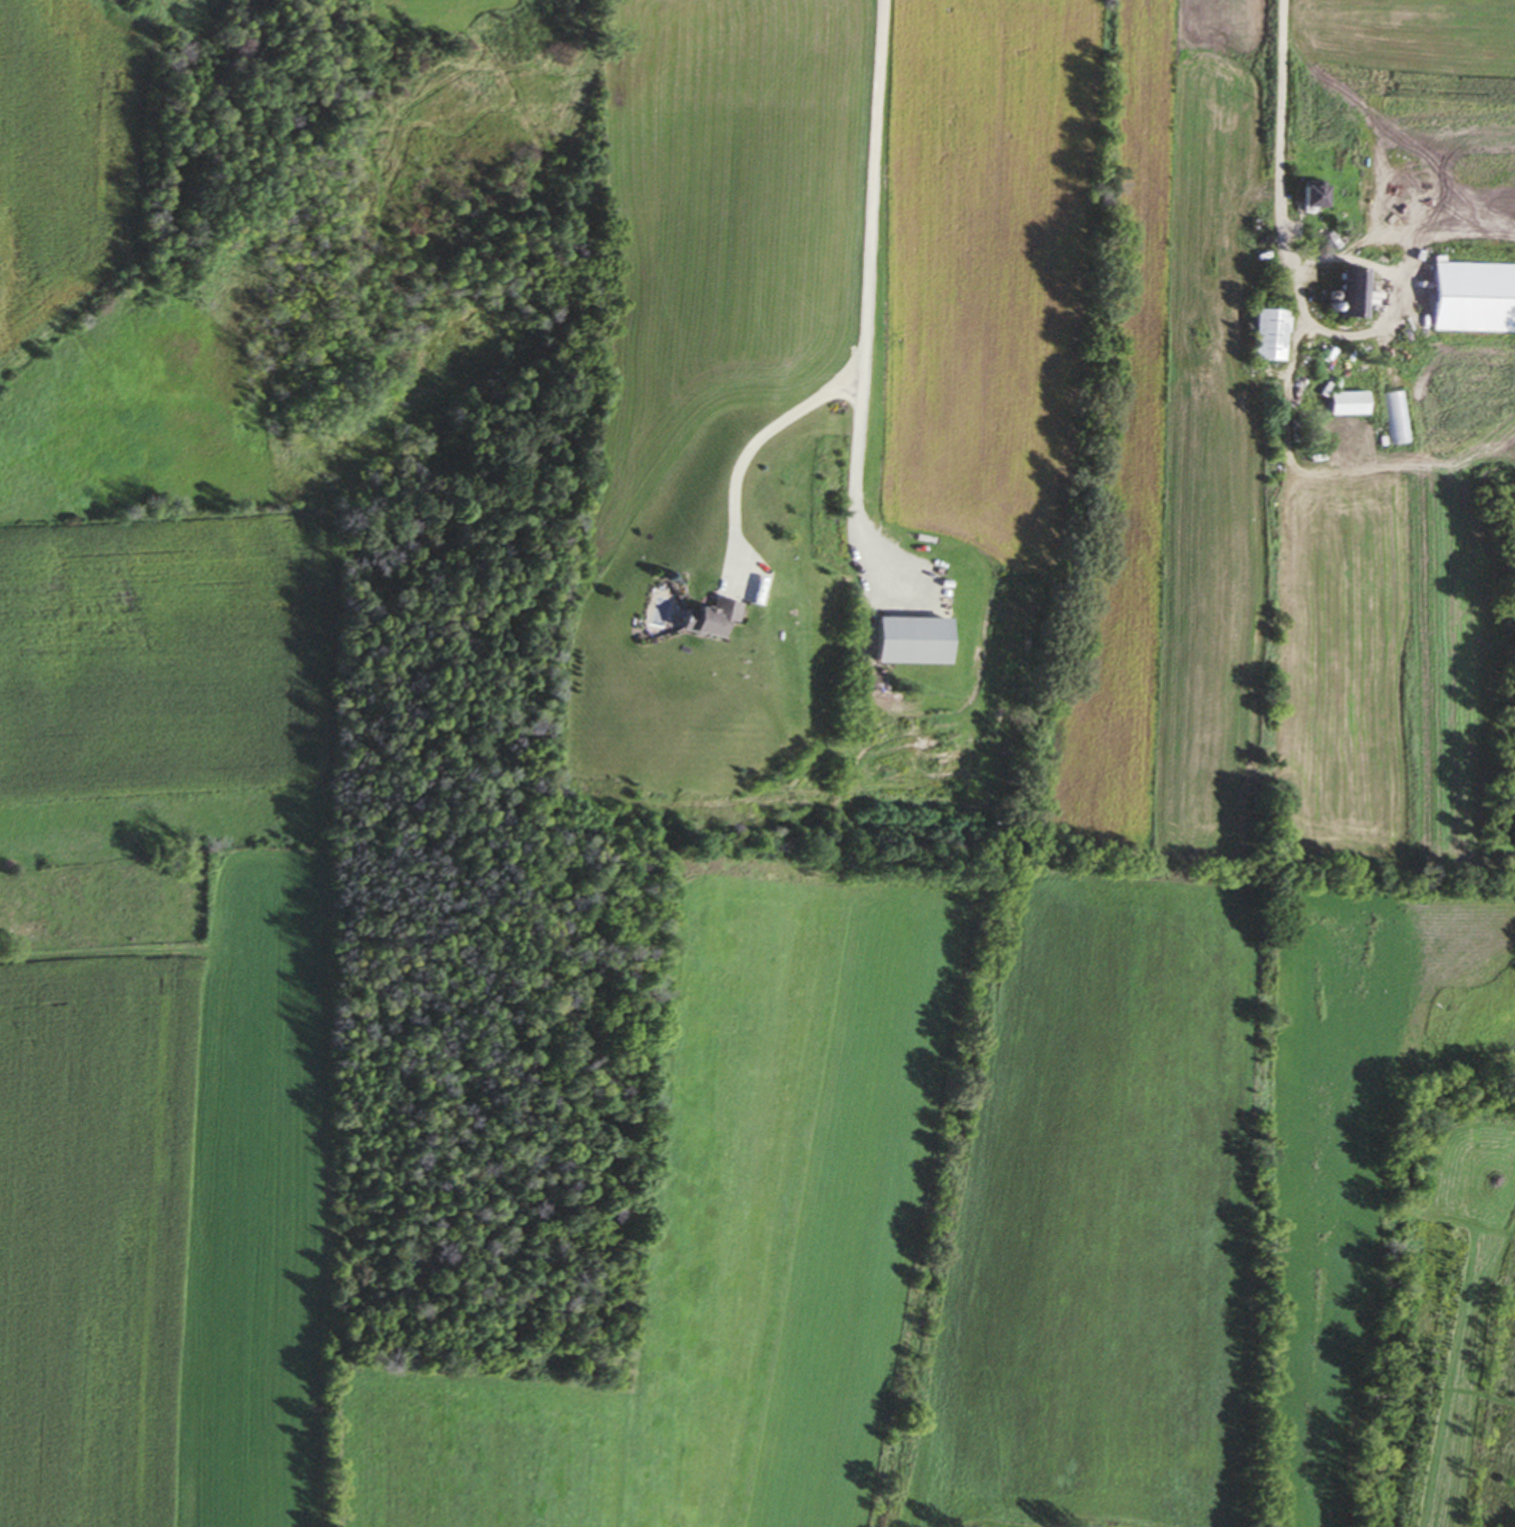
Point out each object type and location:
building: (1308, 198)
road: (1300, 269)
building: (1347, 294)
road: (1301, 297)
building: (1471, 298)
road: (858, 320)
building: (1264, 336)
building: (1345, 403)
road: (740, 452)
building: (701, 618)
building: (899, 639)

